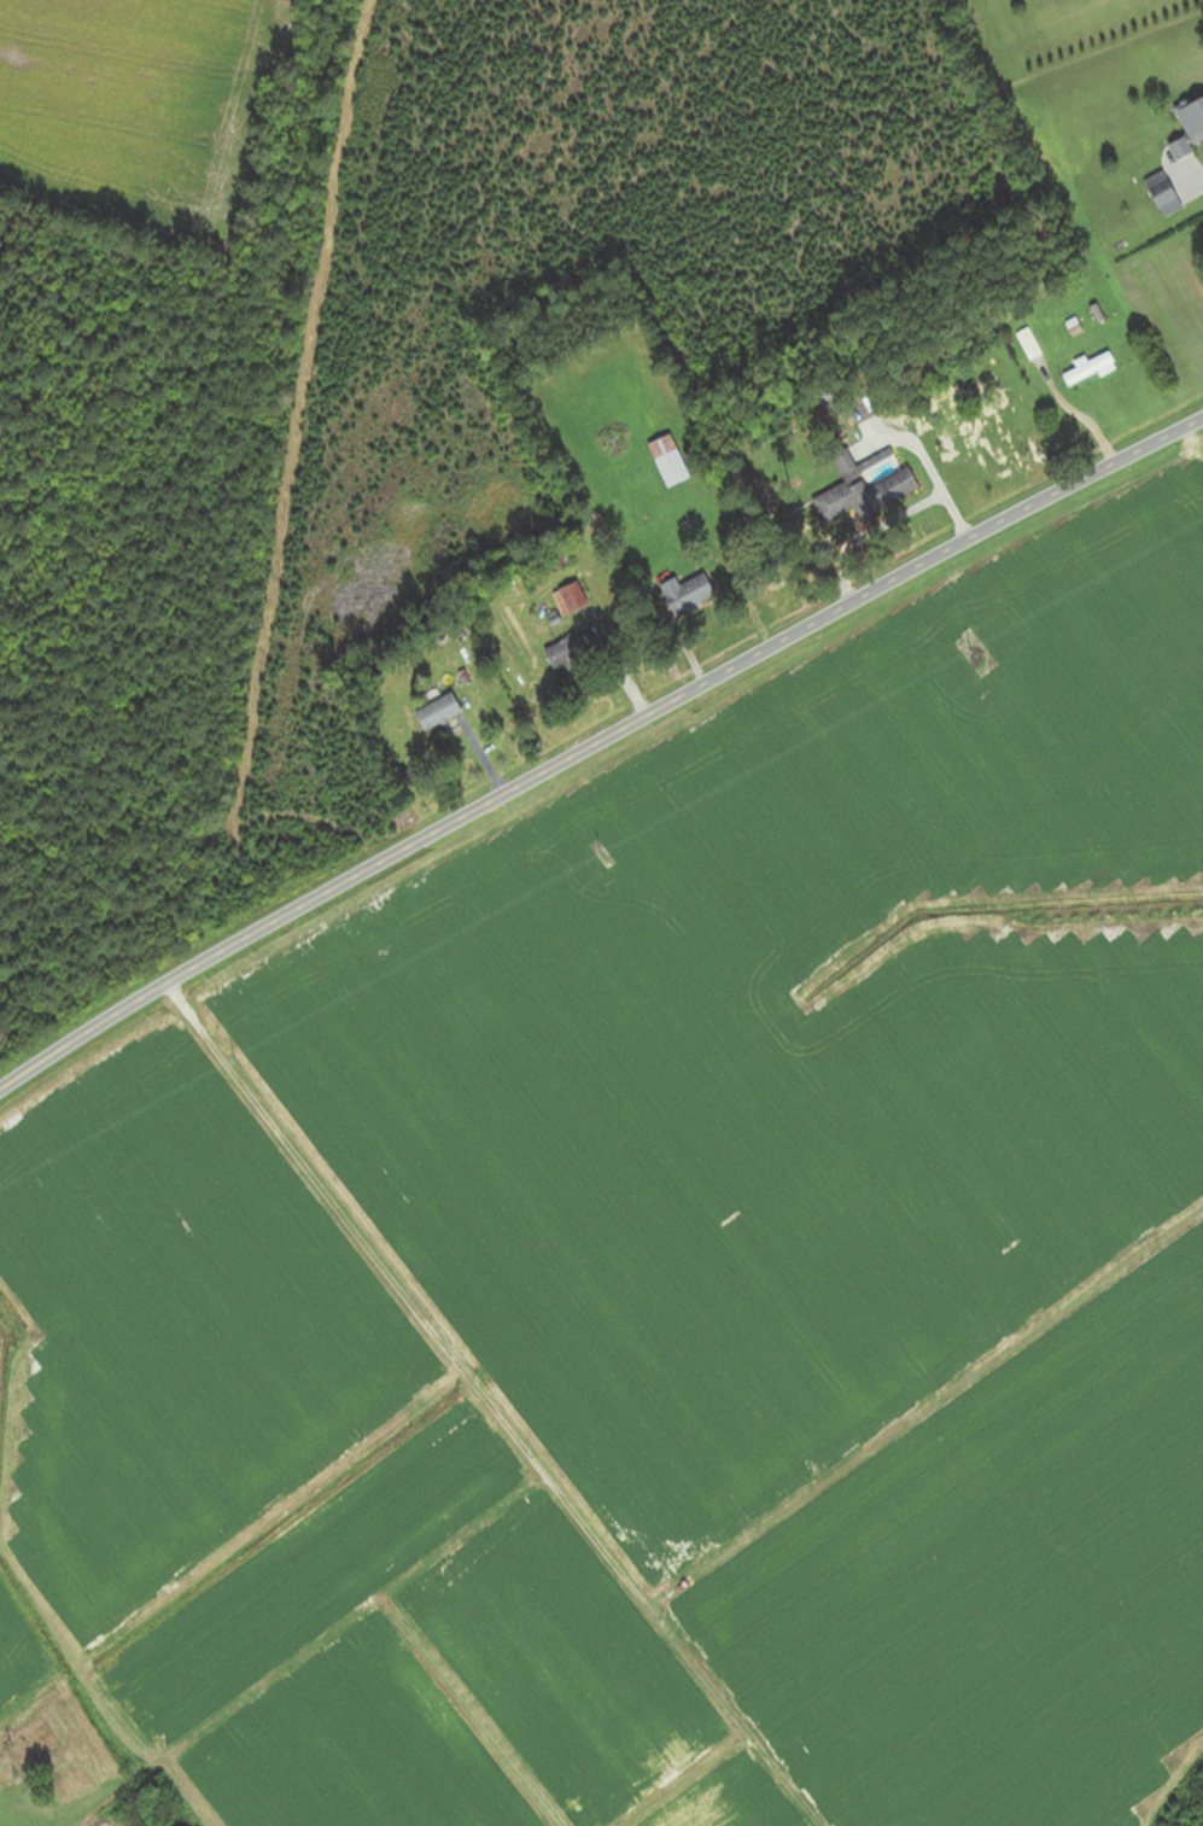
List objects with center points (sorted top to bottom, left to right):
building: (1192, 121)
building: (1160, 188)
building: (1027, 345)
building: (1086, 371)
building: (708, 450)
building: (667, 461)
building: (866, 496)
building: (615, 523)
building: (688, 593)
building: (568, 600)
building: (568, 652)
building: (437, 713)
road: (595, 746)

